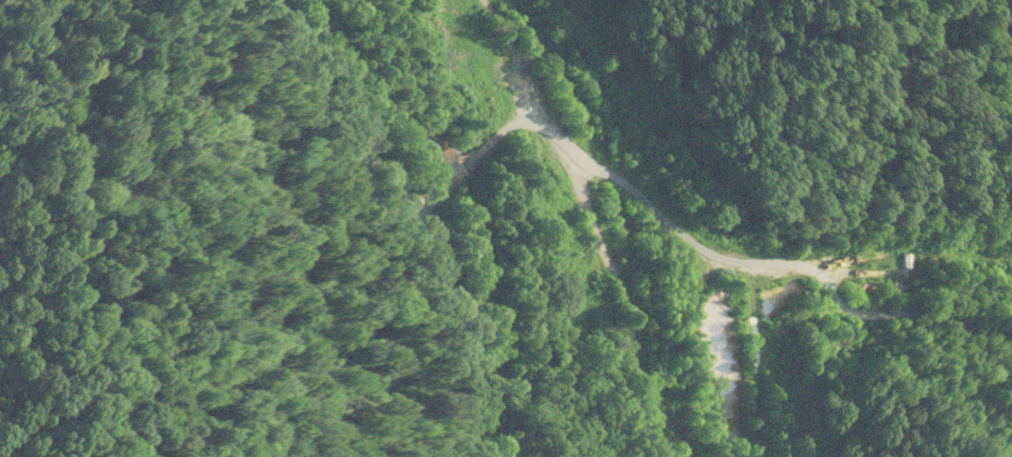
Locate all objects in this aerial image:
road: (408, 209)
building: (904, 261)

